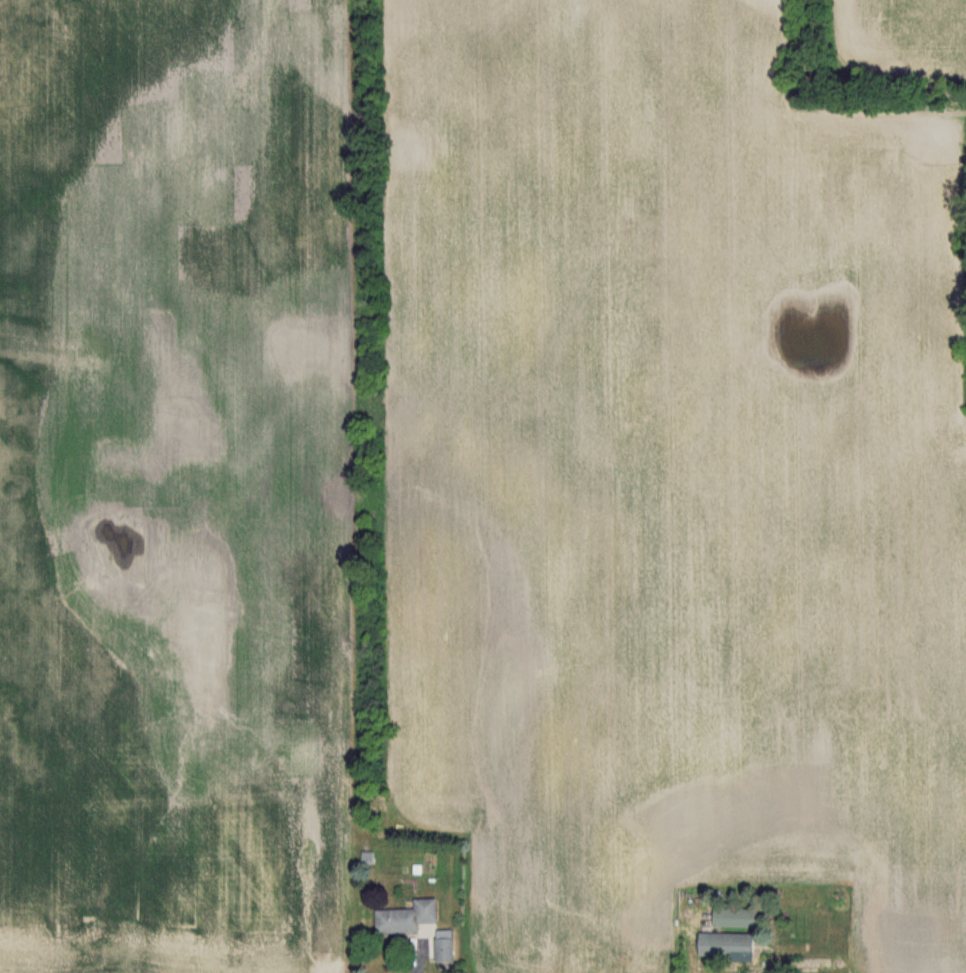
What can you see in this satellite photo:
building: (730, 916)
building: (403, 917)
building: (720, 943)
building: (442, 946)

